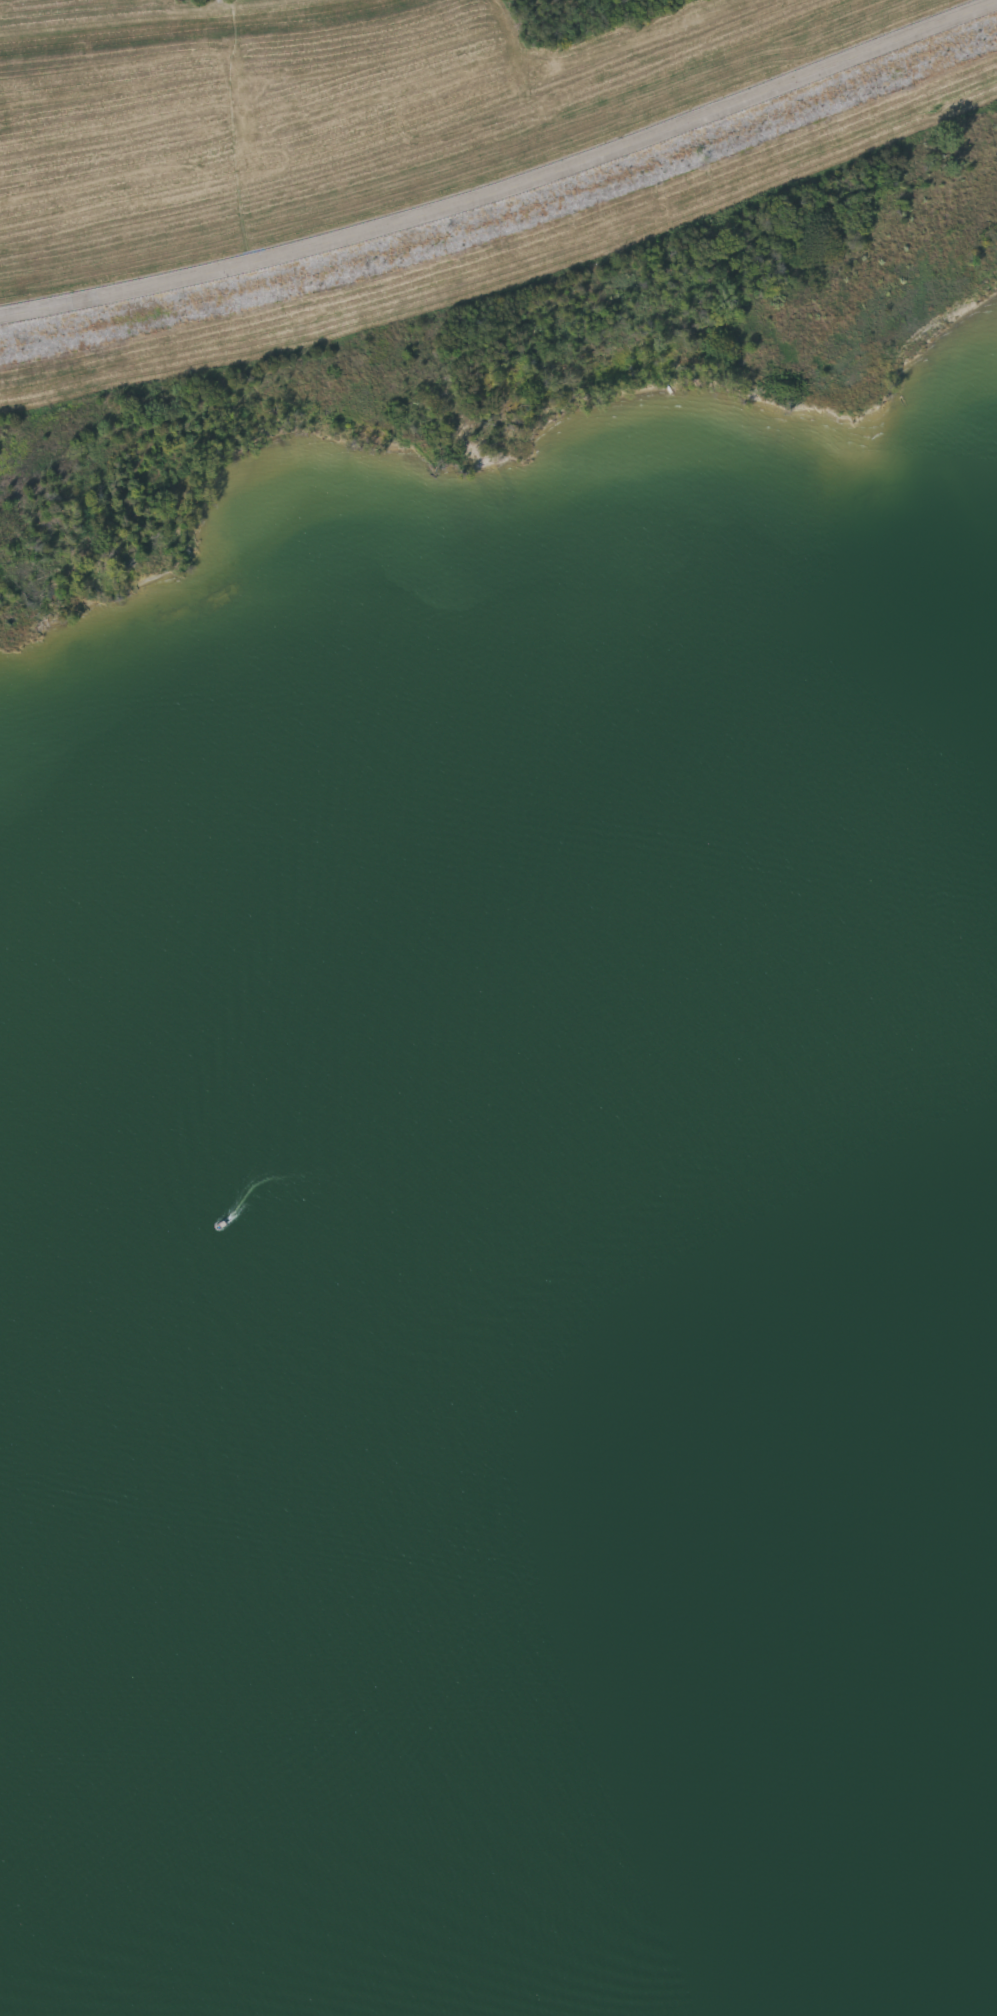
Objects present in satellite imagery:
road: (507, 187)
park: (528, 364)

